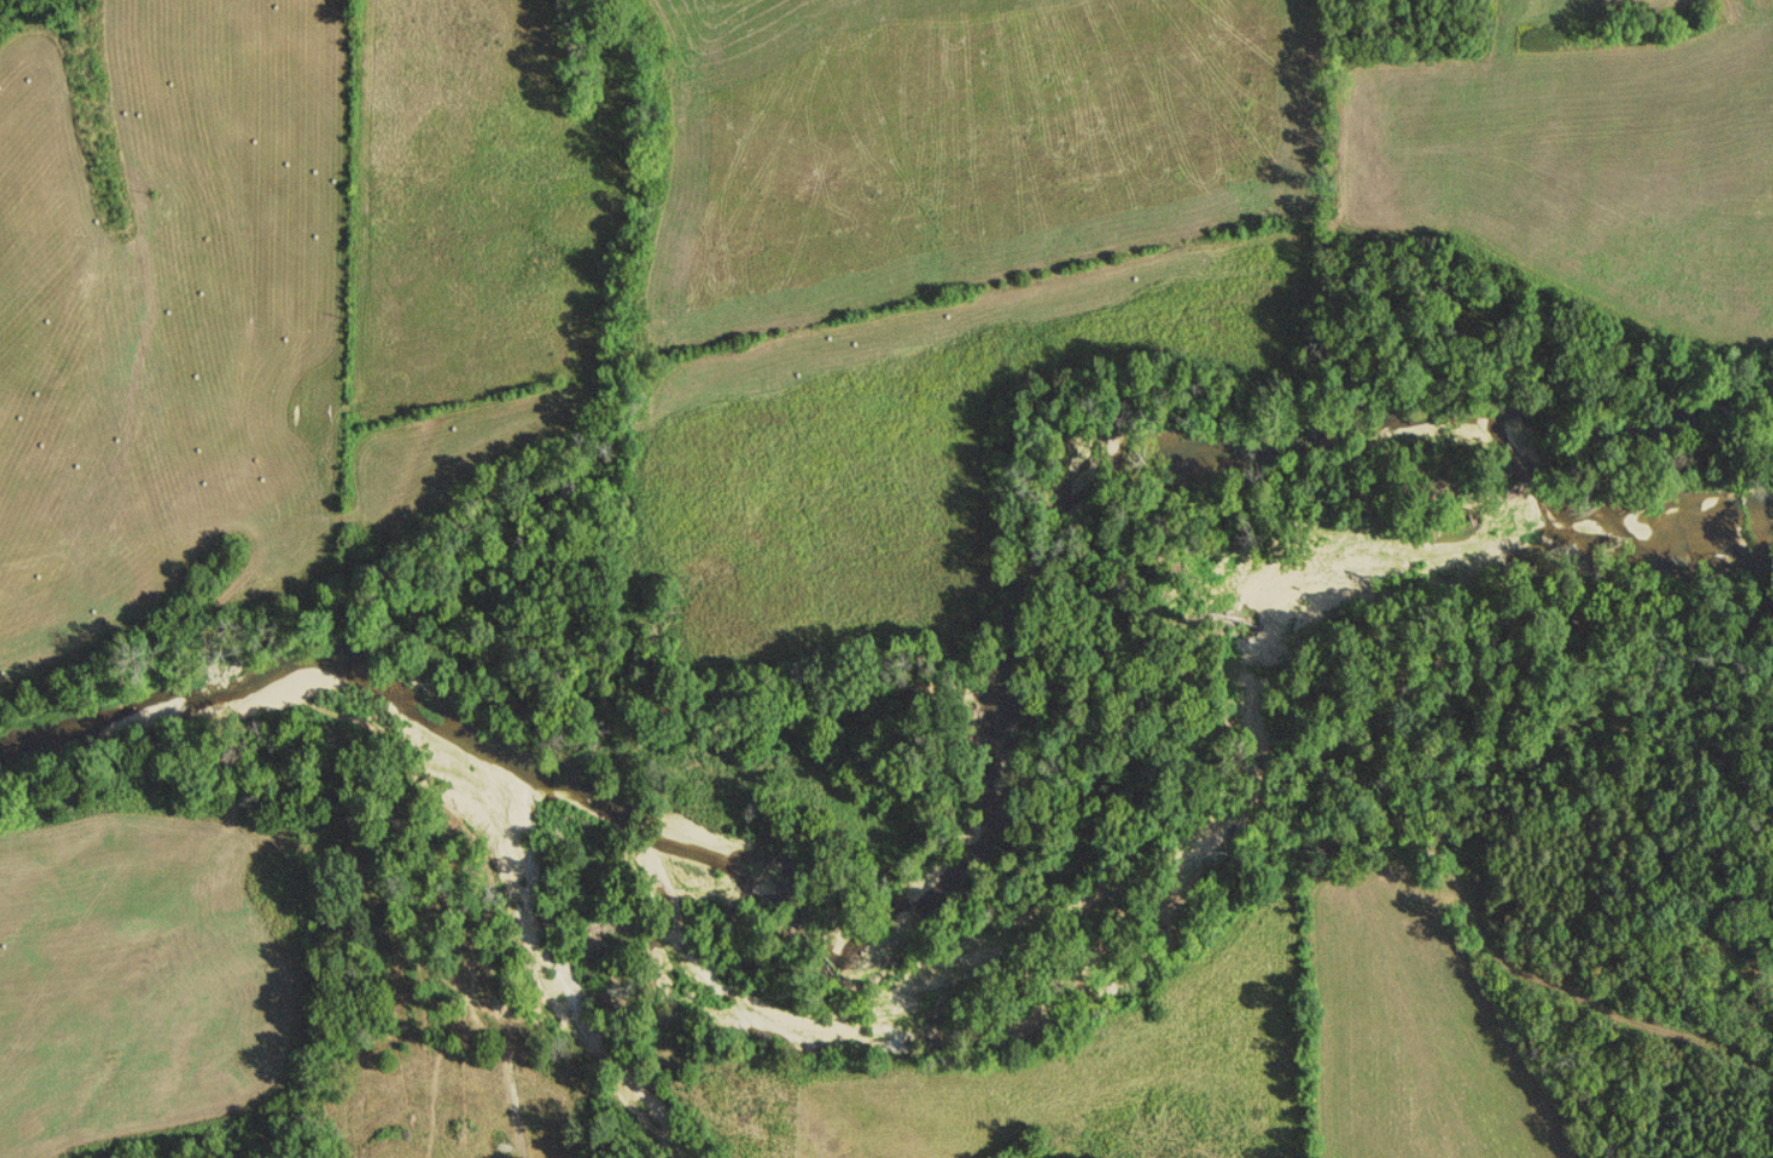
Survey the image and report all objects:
river: (1652, 533)
river: (898, 954)

